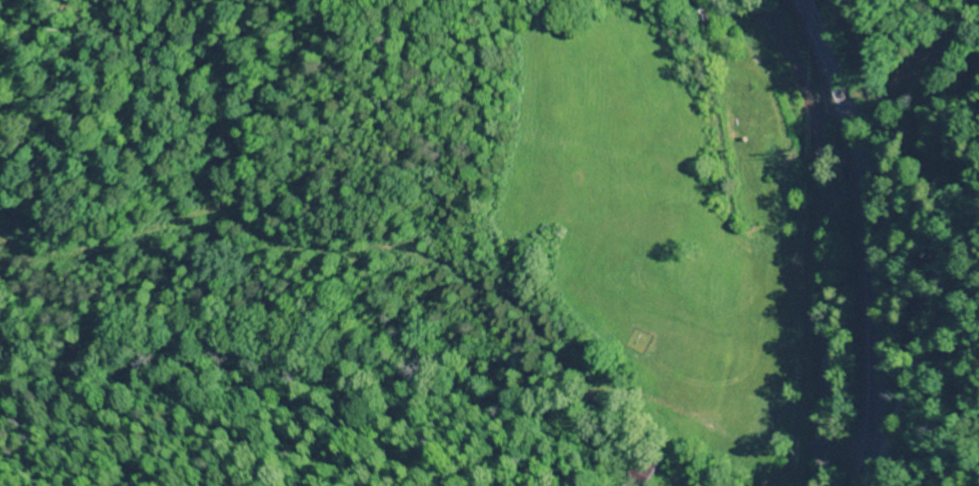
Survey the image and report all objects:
building: (753, 128)
road: (873, 236)

